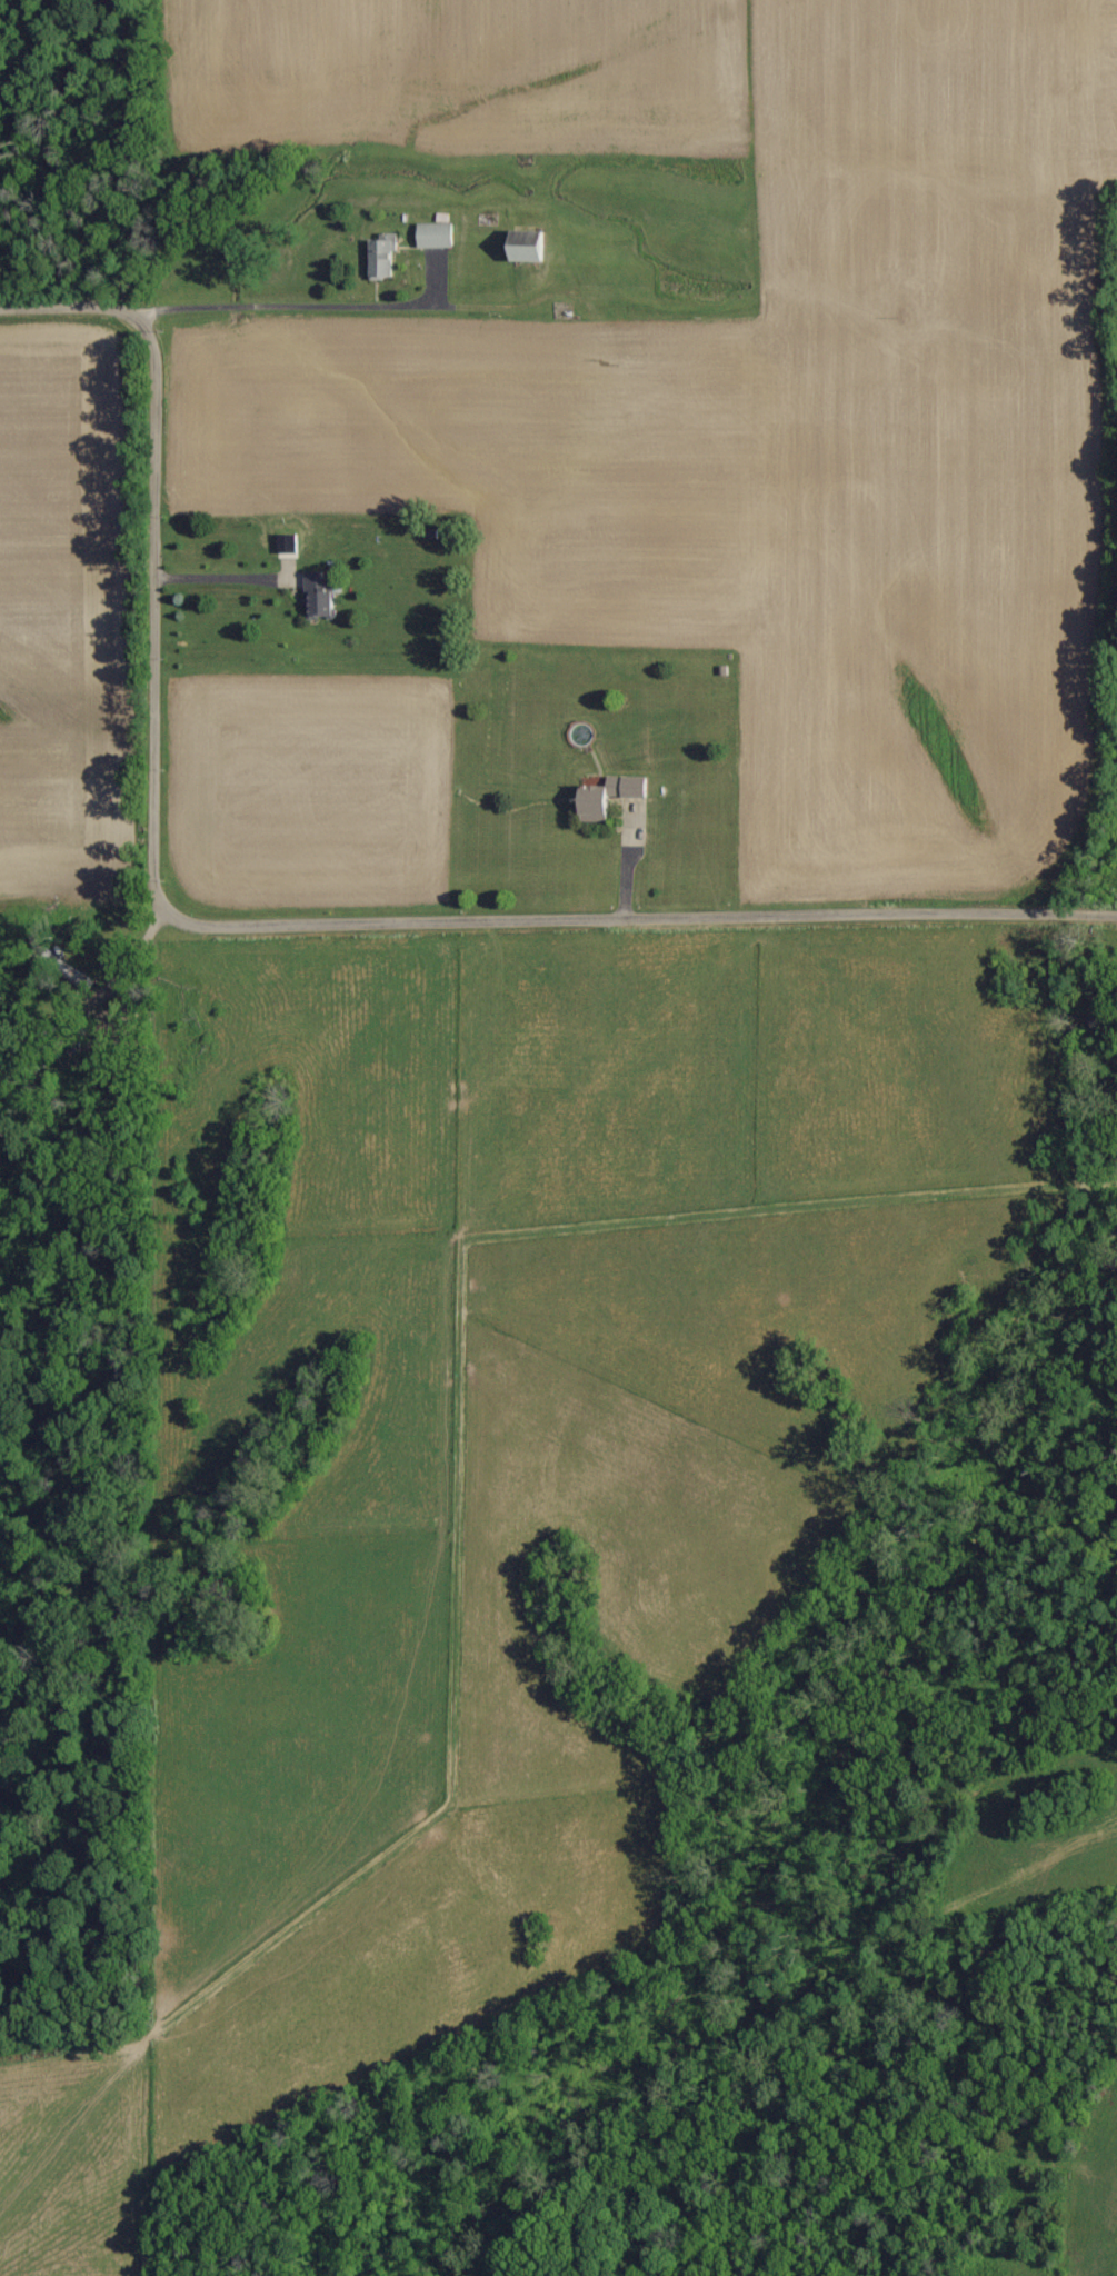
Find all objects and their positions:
building: (437, 236)
building: (529, 249)
building: (385, 257)
road: (77, 299)
road: (313, 307)
road: (222, 572)
building: (321, 596)
road: (158, 609)
building: (612, 797)
road: (637, 914)

